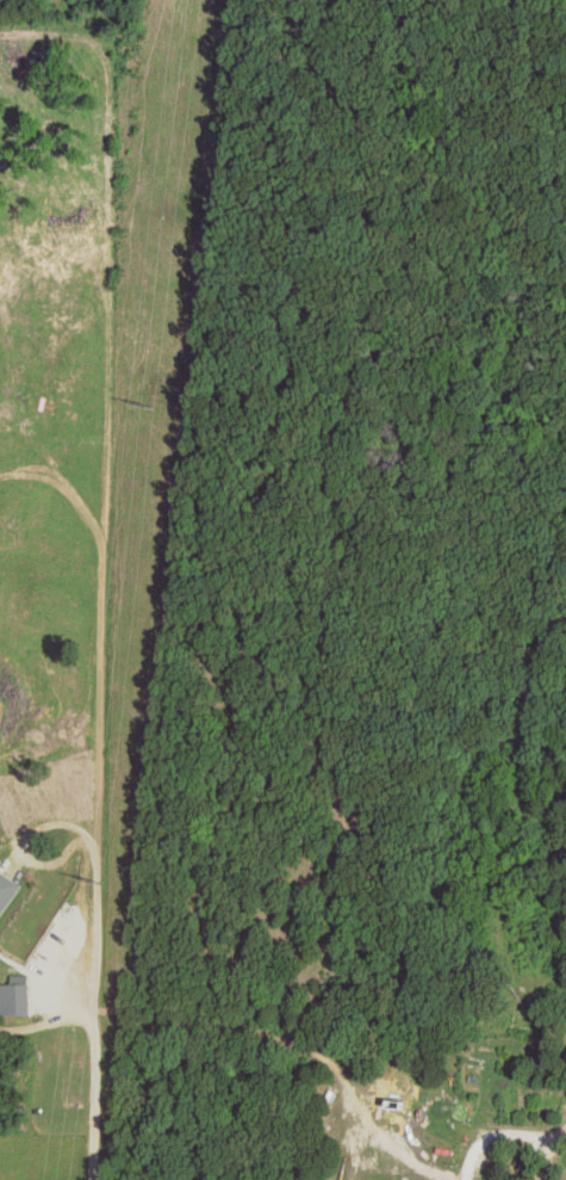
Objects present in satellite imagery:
power tower: (143, 401)
power tower: (91, 878)
building: (7, 890)
building: (14, 997)
road: (464, 1178)

